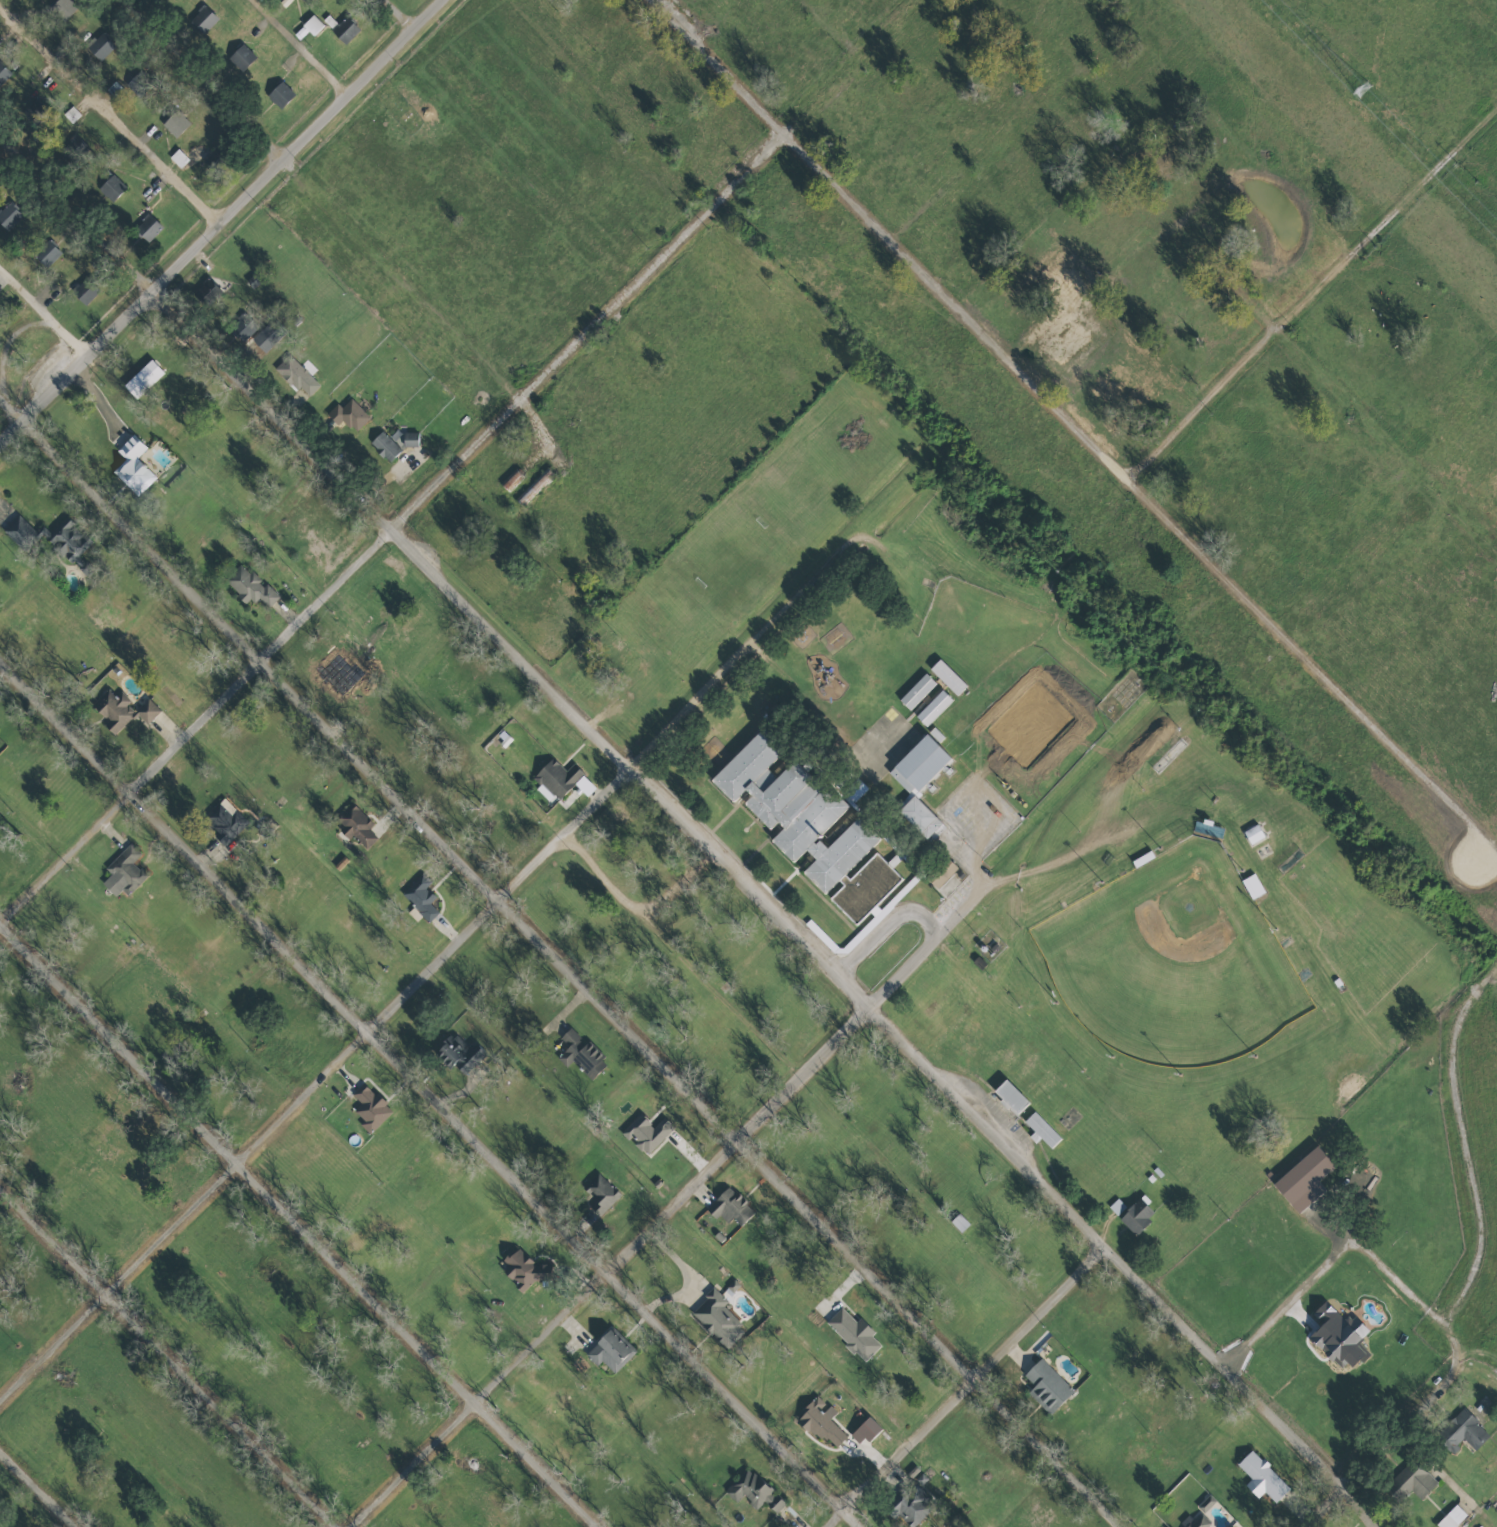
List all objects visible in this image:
building: (302, 0)
building: (63, 8)
road: (400, 15)
building: (202, 19)
building: (329, 22)
building: (308, 27)
building: (345, 30)
building: (98, 47)
road: (300, 48)
building: (241, 57)
building: (3, 73)
building: (138, 82)
road: (200, 82)
power tower: (1362, 89)
building: (279, 94)
building: (34, 111)
road: (109, 116)
building: (174, 123)
building: (178, 158)
building: (110, 187)
building: (8, 215)
road: (222, 220)
building: (148, 229)
building: (45, 253)
building: (209, 291)
building: (84, 292)
road: (1306, 293)
road: (43, 312)
building: (266, 337)
building: (296, 376)
building: (142, 379)
building: (348, 415)
road: (1076, 429)
building: (409, 439)
building: (384, 446)
building: (132, 466)
building: (510, 480)
building: (533, 488)
road: (391, 528)
building: (48, 536)
building: (249, 586)
building: (121, 710)
building: (935, 734)
building: (503, 738)
building: (555, 779)
building: (919, 784)
building: (853, 791)
road: (671, 815)
building: (224, 822)
building: (355, 826)
building: (807, 827)
building: (1253, 834)
road: (1113, 835)
building: (123, 872)
building: (939, 872)
building: (1252, 887)
building: (420, 897)
road: (434, 964)
road: (563, 964)
building: (458, 1054)
building: (580, 1055)
road: (429, 1094)
building: (1010, 1096)
building: (369, 1109)
building: (1041, 1130)
building: (645, 1132)
road: (1323, 1138)
building: (1303, 1178)
road: (1468, 1189)
building: (600, 1193)
building: (729, 1206)
building: (1116, 1206)
road: (668, 1207)
building: (1136, 1215)
building: (959, 1222)
road: (298, 1226)
building: (522, 1270)
road: (1286, 1301)
building: (717, 1318)
building: (853, 1333)
building: (1338, 1336)
building: (609, 1351)
road: (165, 1358)
building: (1046, 1386)
road: (967, 1389)
building: (820, 1421)
building: (867, 1429)
building: (1461, 1432)
road: (1386, 1446)
building: (1261, 1477)
building: (1412, 1480)
road: (37, 1489)
building: (753, 1491)
building: (1205, 1503)
building: (909, 1504)
building: (1451, 1517)
park: (7, 1519)
building: (1196, 1522)
building: (1228, 1526)

